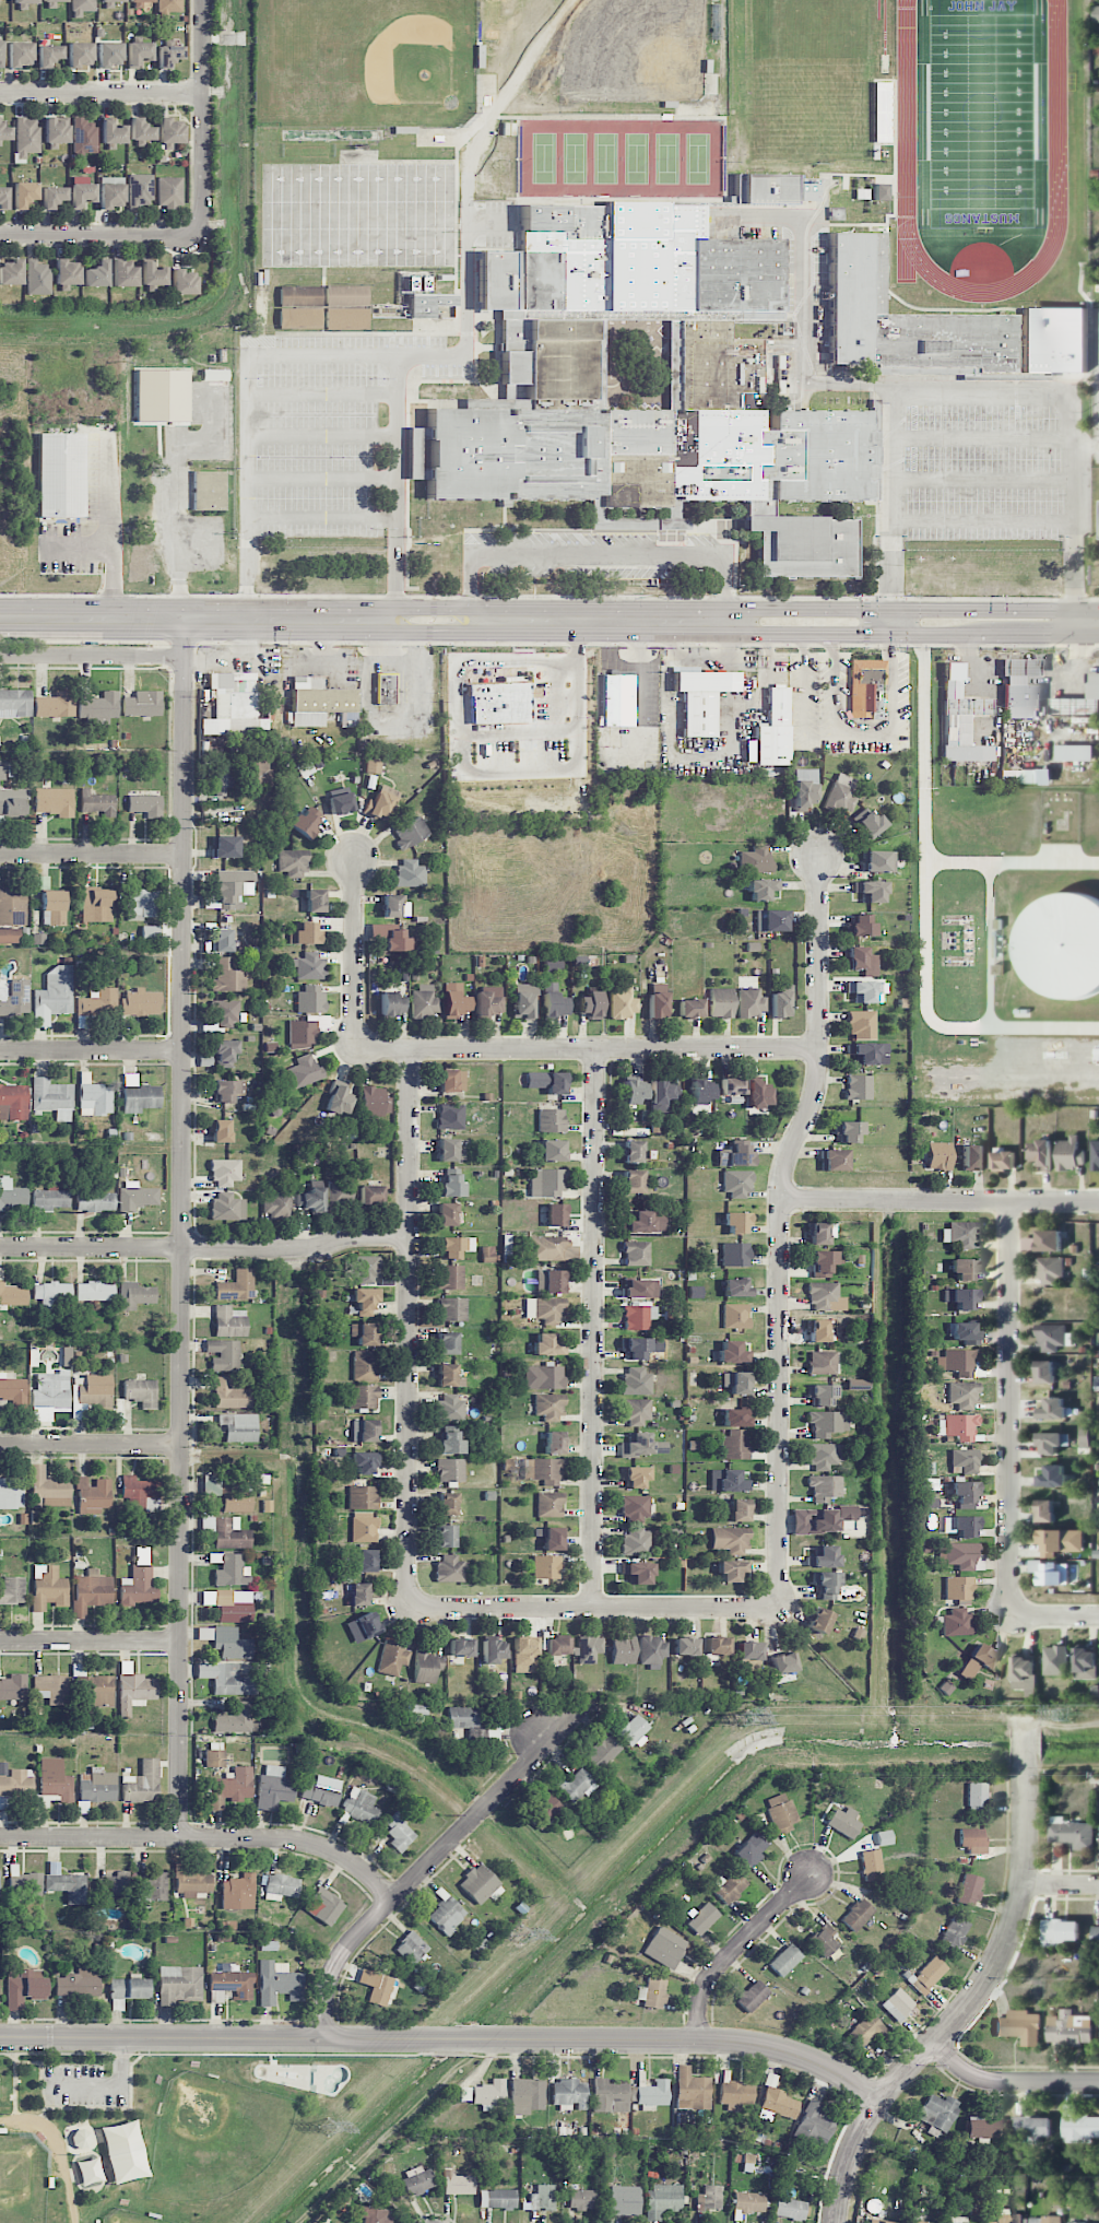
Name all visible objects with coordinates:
building: (4, 0)
building: (54, 0)
building: (25, 1)
building: (111, 1)
building: (138, 3)
building: (169, 5)
building: (81, 7)
building: (0, 51)
building: (138, 52)
building: (20, 54)
building: (109, 54)
building: (49, 55)
building: (79, 55)
building: (168, 55)
road: (101, 94)
track: (907, 111)
park: (982, 114)
road: (201, 117)
building: (56, 129)
building: (141, 130)
building: (170, 131)
building: (113, 132)
building: (5, 134)
building: (26, 137)
building: (84, 137)
building: (140, 189)
building: (806, 189)
building: (767, 190)
building: (169, 191)
building: (882, 191)
building: (111, 192)
building: (24, 193)
building: (82, 195)
building: (52, 197)
building: (3, 198)
road: (101, 234)
building: (11, 272)
building: (123, 273)
building: (66, 274)
building: (96, 274)
building: (152, 277)
building: (37, 278)
building: (182, 282)
building: (423, 295)
building: (299, 296)
building: (347, 296)
road: (468, 298)
building: (346, 319)
building: (300, 320)
building: (905, 321)
building: (1053, 341)
road: (805, 346)
road: (323, 356)
building: (545, 374)
road: (1026, 389)
road: (323, 393)
building: (161, 396)
road: (324, 436)
building: (61, 474)
road: (324, 478)
road: (170, 486)
building: (209, 490)
road: (324, 520)
road: (598, 550)
road: (114, 558)
road: (1073, 573)
road: (471, 585)
road: (724, 585)
road: (806, 609)
road: (983, 610)
road: (363, 619)
road: (890, 622)
road: (1087, 623)
road: (779, 632)
road: (863, 632)
road: (983, 633)
road: (725, 646)
road: (93, 655)
road: (699, 658)
road: (731, 681)
road: (642, 683)
road: (837, 683)
building: (385, 687)
building: (866, 687)
building: (1020, 687)
building: (702, 697)
building: (617, 698)
building: (1079, 701)
building: (319, 702)
building: (14, 703)
building: (500, 703)
building: (143, 704)
building: (56, 705)
building: (234, 705)
building: (99, 708)
road: (731, 715)
building: (961, 718)
building: (773, 729)
road: (846, 733)
road: (699, 753)
building: (1074, 753)
building: (373, 766)
road: (480, 771)
building: (257, 772)
building: (2, 773)
building: (1025, 776)
building: (222, 778)
building: (804, 788)
building: (841, 793)
building: (55, 801)
building: (13, 802)
building: (96, 802)
building: (340, 802)
building: (380, 803)
building: (145, 804)
building: (306, 822)
building: (866, 823)
building: (410, 833)
building: (225, 846)
road: (93, 852)
building: (756, 859)
building: (878, 860)
building: (293, 862)
building: (410, 873)
building: (42, 882)
building: (232, 887)
building: (763, 889)
building: (870, 891)
building: (315, 901)
building: (96, 904)
building: (142, 904)
building: (391, 905)
building: (55, 906)
building: (12, 907)
building: (771, 920)
building: (860, 925)
building: (150, 932)
building: (9, 934)
building: (305, 934)
building: (392, 938)
building: (221, 940)
building: (1062, 946)
road: (355, 953)
building: (860, 960)
building: (552, 964)
building: (308, 965)
building: (233, 974)
building: (866, 990)
building: (54, 996)
building: (16, 999)
building: (310, 1000)
building: (454, 1000)
building: (488, 1001)
building: (522, 1001)
building: (657, 1001)
building: (97, 1002)
building: (141, 1002)
building: (425, 1002)
building: (552, 1002)
building: (622, 1002)
building: (721, 1002)
building: (751, 1002)
building: (391, 1003)
building: (589, 1004)
building: (779, 1004)
building: (689, 1008)
building: (225, 1012)
building: (861, 1024)
building: (305, 1031)
road: (588, 1049)
road: (93, 1050)
building: (224, 1051)
building: (866, 1051)
building: (304, 1071)
building: (451, 1080)
building: (546, 1081)
building: (732, 1085)
building: (859, 1086)
building: (227, 1090)
building: (634, 1091)
building: (701, 1091)
building: (139, 1095)
building: (660, 1095)
building: (758, 1095)
building: (52, 1097)
building: (94, 1097)
building: (339, 1098)
building: (13, 1102)
building: (375, 1102)
building: (450, 1116)
building: (551, 1120)
building: (221, 1130)
building: (848, 1130)
building: (450, 1150)
building: (552, 1150)
building: (631, 1151)
building: (1070, 1154)
building: (1095, 1154)
building: (735, 1155)
building: (938, 1155)
building: (972, 1156)
building: (1041, 1156)
building: (832, 1160)
building: (225, 1172)
building: (633, 1181)
building: (547, 1183)
building: (736, 1183)
building: (450, 1185)
building: (339, 1192)
building: (11, 1195)
building: (370, 1195)
building: (137, 1196)
building: (50, 1198)
building: (311, 1198)
building: (96, 1201)
road: (941, 1201)
building: (279, 1202)
building: (227, 1207)
building: (446, 1214)
building: (555, 1215)
building: (645, 1221)
building: (737, 1221)
road: (185, 1228)
road: (782, 1230)
building: (819, 1232)
building: (960, 1233)
building: (1043, 1242)
building: (450, 1247)
road: (205, 1249)
building: (549, 1249)
building: (637, 1252)
building: (735, 1254)
building: (824, 1262)
building: (361, 1267)
building: (964, 1268)
building: (1050, 1270)
building: (450, 1277)
building: (548, 1281)
building: (236, 1285)
building: (735, 1286)
building: (639, 1287)
building: (94, 1291)
building: (695, 1292)
building: (51, 1293)
building: (12, 1294)
building: (134, 1295)
building: (825, 1296)
building: (961, 1298)
building: (365, 1299)
building: (451, 1309)
building: (544, 1309)
building: (638, 1316)
building: (735, 1316)
building: (229, 1321)
road: (409, 1328)
road: (595, 1329)
building: (817, 1330)
building: (965, 1332)
building: (364, 1333)
building: (1051, 1337)
building: (447, 1343)
building: (548, 1344)
building: (636, 1348)
building: (733, 1352)
building: (223, 1354)
building: (822, 1362)
building: (364, 1365)
building: (1045, 1372)
building: (449, 1376)
building: (543, 1377)
building: (637, 1381)
building: (856, 1381)
building: (735, 1383)
building: (12, 1388)
building: (93, 1389)
building: (142, 1391)
building: (820, 1393)
building: (961, 1393)
building: (229, 1395)
building: (50, 1396)
building: (363, 1397)
building: (548, 1407)
building: (451, 1408)
building: (1052, 1409)
building: (637, 1411)
road: (1008, 1411)
building: (734, 1418)
building: (827, 1423)
building: (960, 1426)
building: (238, 1427)
building: (364, 1431)
building: (553, 1442)
building: (449, 1443)
building: (1052, 1443)
road: (92, 1444)
building: (643, 1446)
building: (734, 1447)
building: (824, 1456)
building: (964, 1459)
building: (364, 1462)
building: (450, 1470)
building: (543, 1470)
building: (634, 1477)
building: (1053, 1477)
building: (728, 1481)
building: (211, 1484)
building: (824, 1487)
building: (47, 1489)
building: (138, 1492)
building: (964, 1492)
building: (11, 1493)
building: (93, 1495)
building: (235, 1496)
building: (363, 1497)
building: (448, 1504)
building: (549, 1504)
building: (635, 1507)
building: (738, 1509)
building: (1045, 1510)
building: (830, 1518)
building: (960, 1525)
building: (364, 1527)
building: (226, 1532)
building: (445, 1536)
building: (552, 1538)
building: (730, 1540)
building: (636, 1541)
building: (1060, 1542)
building: (958, 1554)
building: (823, 1556)
building: (365, 1561)
building: (545, 1566)
building: (450, 1568)
building: (229, 1569)
building: (732, 1569)
building: (637, 1573)
building: (1051, 1573)
building: (139, 1580)
building: (827, 1586)
building: (48, 1588)
building: (959, 1589)
building: (12, 1590)
building: (92, 1591)
building: (359, 1593)
building: (234, 1605)
road: (593, 1609)
building: (818, 1620)
road: (1053, 1620)
building: (956, 1622)
building: (363, 1626)
road: (92, 1642)
building: (232, 1643)
building: (557, 1646)
building: (685, 1646)
building: (717, 1646)
building: (461, 1647)
building: (588, 1649)
building: (623, 1649)
building: (748, 1650)
building: (493, 1651)
building: (652, 1651)
building: (524, 1655)
building: (392, 1659)
building: (1054, 1660)
building: (977, 1661)
building: (782, 1663)
building: (1086, 1663)
building: (426, 1667)
building: (1025, 1675)
building: (227, 1679)
building: (13, 1687)
building: (51, 1689)
building: (98, 1690)
building: (134, 1692)
power tower: (1064, 1716)
power tower: (746, 1717)
building: (235, 1718)
building: (465, 1720)
building: (631, 1730)
road: (541, 1734)
building: (602, 1752)
building: (215, 1757)
building: (55, 1779)
building: (142, 1783)
building: (16, 1784)
building: (576, 1785)
building: (97, 1786)
building: (232, 1788)
building: (273, 1788)
building: (320, 1793)
building: (977, 1797)
building: (359, 1807)
building: (545, 1809)
building: (780, 1812)
building: (843, 1822)
building: (399, 1832)
building: (1072, 1834)
building: (884, 1837)
road: (206, 1839)
building: (972, 1839)
building: (751, 1849)
road: (433, 1859)
building: (871, 1865)
building: (190, 1880)
building: (478, 1883)
building: (28, 1884)
road: (1061, 1884)
building: (731, 1885)
building: (68, 1886)
building: (281, 1886)
building: (150, 1887)
building: (969, 1890)
building: (238, 1892)
building: (323, 1906)
building: (446, 1915)
building: (856, 1915)
building: (701, 1918)
power tower: (520, 1930)
building: (955, 1932)
building: (1060, 1932)
building: (1095, 1937)
building: (824, 1941)
road: (736, 1946)
building: (411, 1948)
building: (664, 1948)
building: (784, 1960)
building: (927, 1975)
building: (277, 1981)
building: (79, 1983)
building: (180, 1984)
building: (231, 1985)
building: (24, 1987)
building: (376, 1987)
building: (127, 1991)
building: (651, 1992)
road: (974, 1993)
building: (752, 1995)
building: (897, 2004)
building: (1019, 2026)
building: (1068, 2028)
building: (866, 2031)
road: (448, 2042)
road: (1008, 2084)
building: (692, 2090)
building: (488, 2094)
building: (569, 2094)
building: (652, 2094)
building: (527, 2095)
building: (735, 2095)
building: (610, 2096)
building: (777, 2104)
building: (938, 2113)
building: (815, 2125)
building: (1032, 2126)
building: (1078, 2126)
power tower: (328, 2127)
building: (983, 2128)
building: (705, 2129)
park: (169, 2130)
building: (80, 2139)
building: (418, 2181)
building: (458, 2184)
building: (542, 2198)
building: (709, 2198)
building: (496, 2199)
building: (582, 2199)
building: (624, 2200)
building: (662, 2200)
building: (748, 2201)
building: (789, 2209)
building: (376, 2215)
building: (1008, 2218)
building: (957, 2220)
building: (1043, 2220)
building: (878, 2221)
building: (920, 2221)
building: (1070, 2222)

